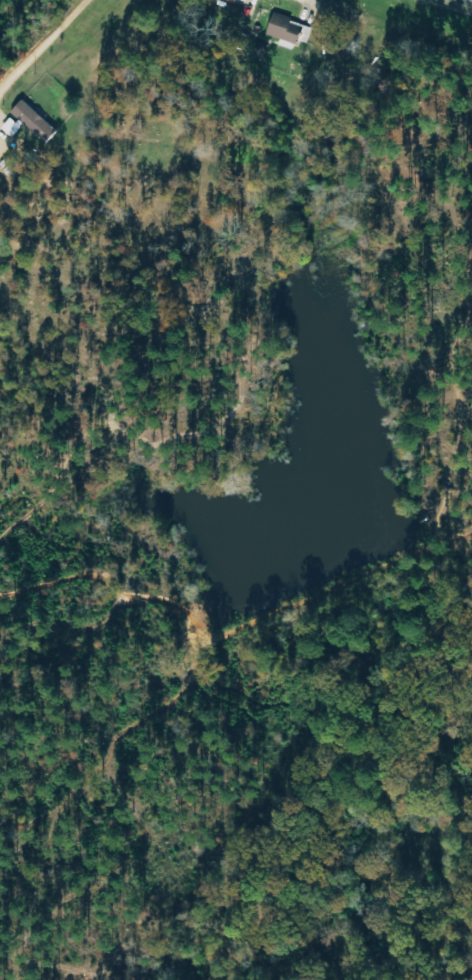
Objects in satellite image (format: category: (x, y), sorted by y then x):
road: (462, 2)
building: (284, 29)
road: (40, 41)
building: (27, 123)

